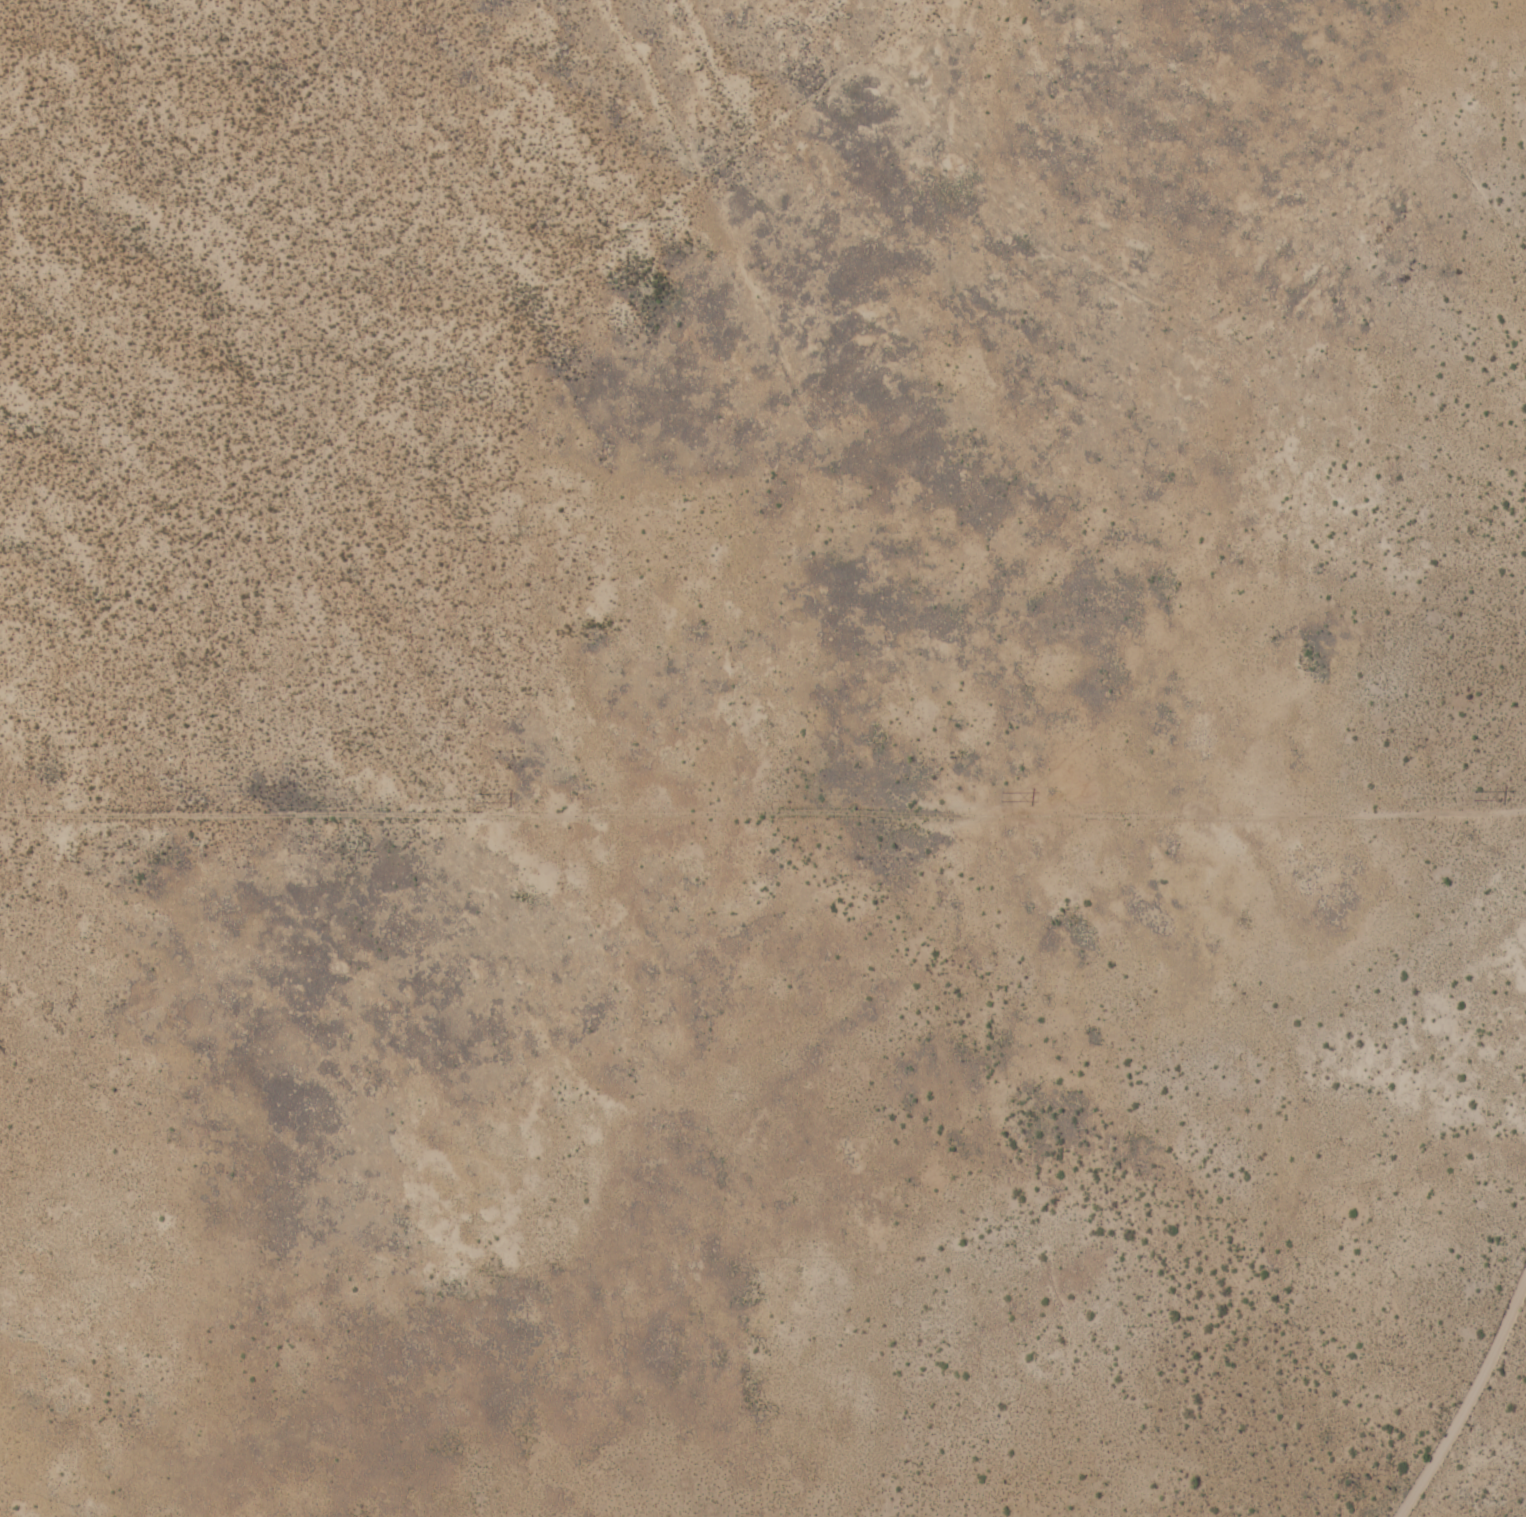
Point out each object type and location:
power tower: (1472, 792)
power tower: (1001, 794)
power tower: (474, 799)
road: (763, 814)
road: (1460, 1358)

